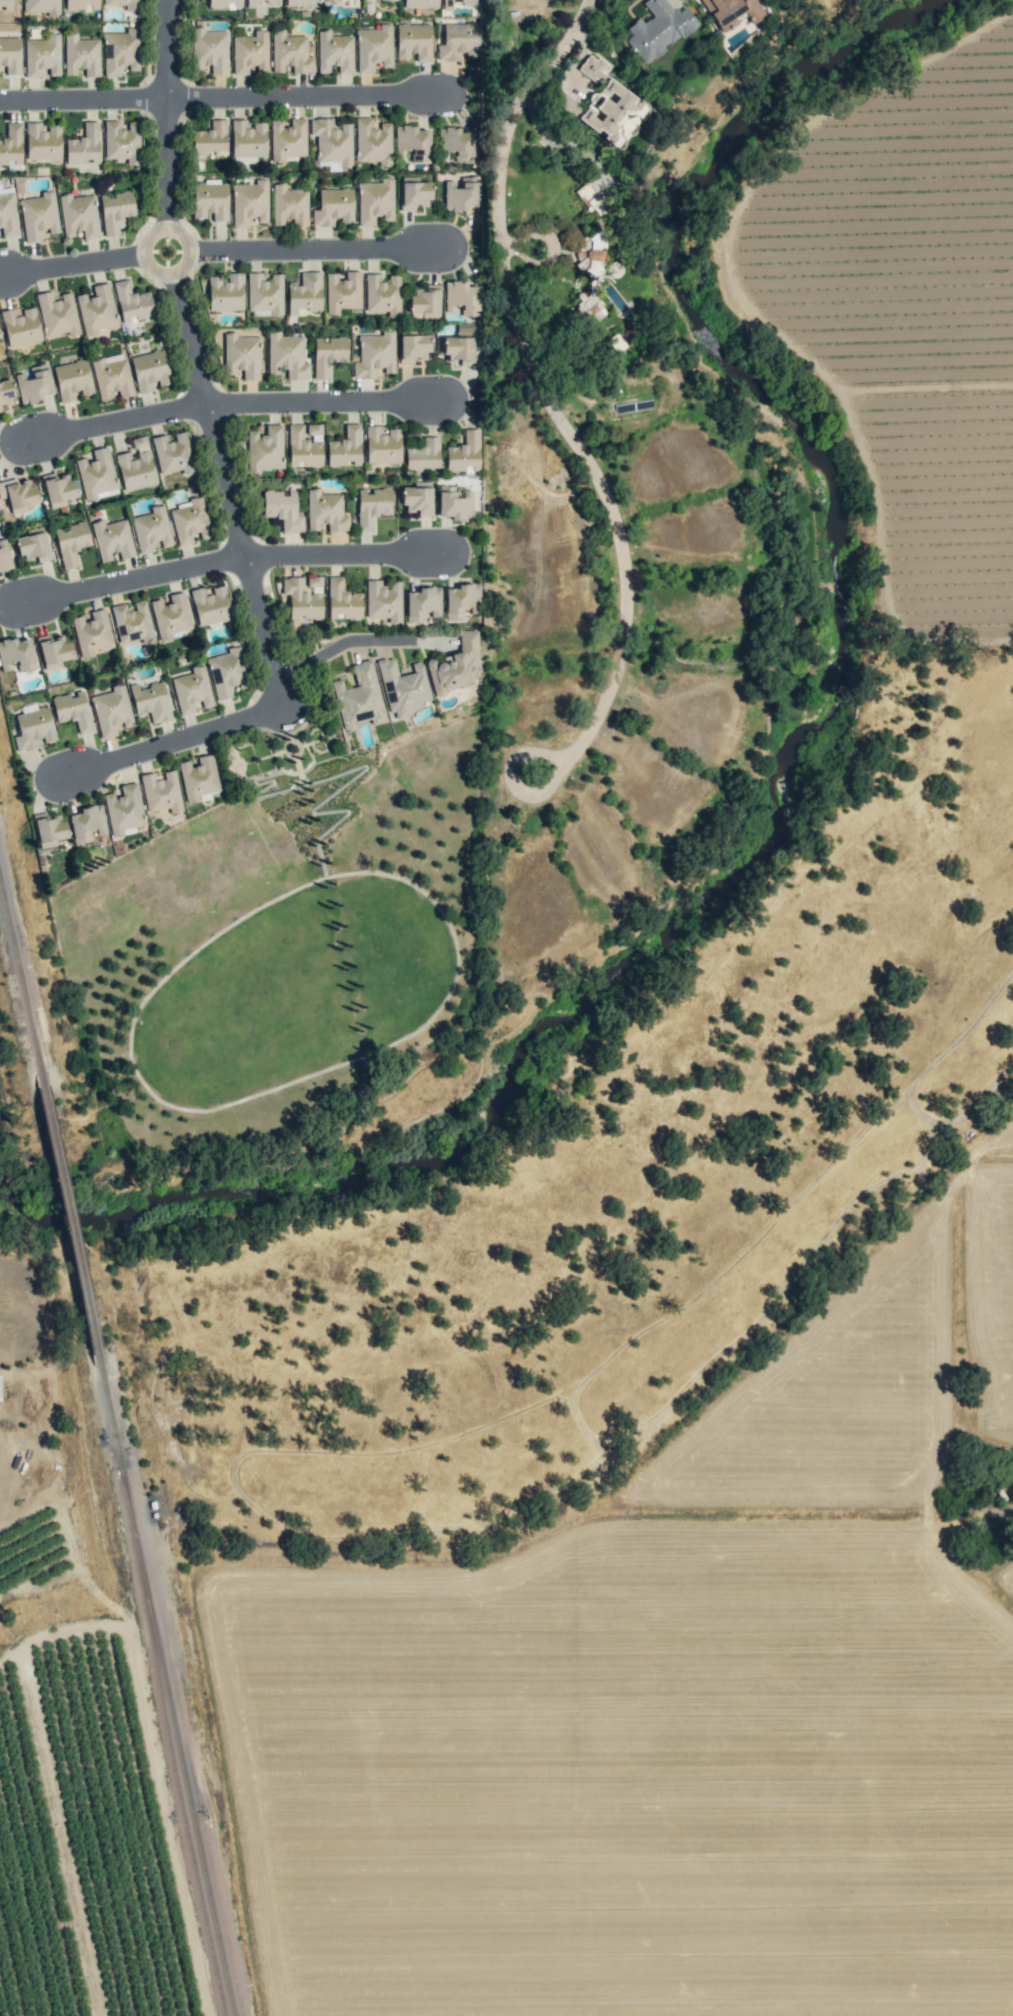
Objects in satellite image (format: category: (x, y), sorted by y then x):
building: (331, 0)
building: (391, 0)
building: (273, 1)
building: (250, 3)
building: (302, 3)
building: (225, 4)
building: (421, 4)
building: (447, 4)
building: (7, 5)
building: (80, 5)
building: (43, 6)
building: (132, 6)
building: (731, 12)
building: (657, 29)
building: (415, 42)
building: (459, 42)
building: (375, 47)
building: (210, 51)
building: (334, 51)
building: (119, 52)
building: (291, 52)
building: (11, 53)
building: (251, 53)
building: (42, 55)
building: (81, 55)
road: (225, 99)
building: (607, 103)
building: (211, 138)
building: (248, 139)
building: (288, 139)
building: (331, 140)
building: (42, 141)
building: (122, 141)
building: (373, 142)
building: (412, 142)
building: (11, 144)
building: (454, 145)
building: (83, 146)
building: (414, 193)
building: (461, 194)
building: (592, 199)
building: (211, 200)
building: (375, 200)
building: (250, 202)
building: (289, 205)
building: (334, 207)
building: (115, 210)
building: (8, 214)
building: (38, 215)
building: (79, 216)
road: (225, 250)
building: (596, 254)
building: (343, 292)
building: (225, 293)
building: (265, 293)
building: (305, 293)
building: (383, 293)
building: (462, 298)
building: (132, 302)
building: (425, 302)
building: (590, 309)
building: (97, 310)
building: (57, 314)
building: (20, 327)
building: (413, 346)
building: (461, 347)
building: (329, 354)
building: (242, 355)
building: (288, 355)
building: (375, 355)
road: (190, 357)
building: (150, 370)
building: (112, 377)
building: (73, 379)
building: (34, 384)
building: (6, 392)
road: (544, 395)
road: (232, 404)
building: (0, 408)
building: (382, 445)
building: (303, 447)
building: (346, 447)
building: (265, 449)
building: (174, 453)
building: (464, 453)
building: (424, 455)
building: (136, 470)
building: (96, 473)
building: (58, 487)
building: (19, 492)
building: (419, 498)
building: (455, 503)
building: (372, 507)
building: (283, 509)
building: (327, 510)
building: (190, 521)
building: (151, 529)
building: (112, 539)
building: (70, 541)
building: (33, 544)
building: (4, 555)
road: (227, 560)
building: (302, 600)
building: (343, 600)
building: (384, 600)
building: (463, 600)
building: (423, 603)
building: (211, 605)
building: (170, 615)
building: (133, 622)
building: (92, 633)
road: (341, 648)
building: (53, 650)
building: (16, 654)
building: (455, 665)
building: (226, 673)
building: (405, 686)
building: (193, 689)
building: (361, 696)
building: (150, 701)
building: (72, 710)
building: (111, 711)
building: (33, 728)
road: (163, 744)
building: (200, 778)
building: (161, 792)
building: (125, 810)
building: (88, 823)
building: (49, 829)
railway: (21, 986)
railway: (71, 1228)
building: (0, 1389)
railway: (110, 1419)
railway: (178, 1743)
railway: (169, 1744)

